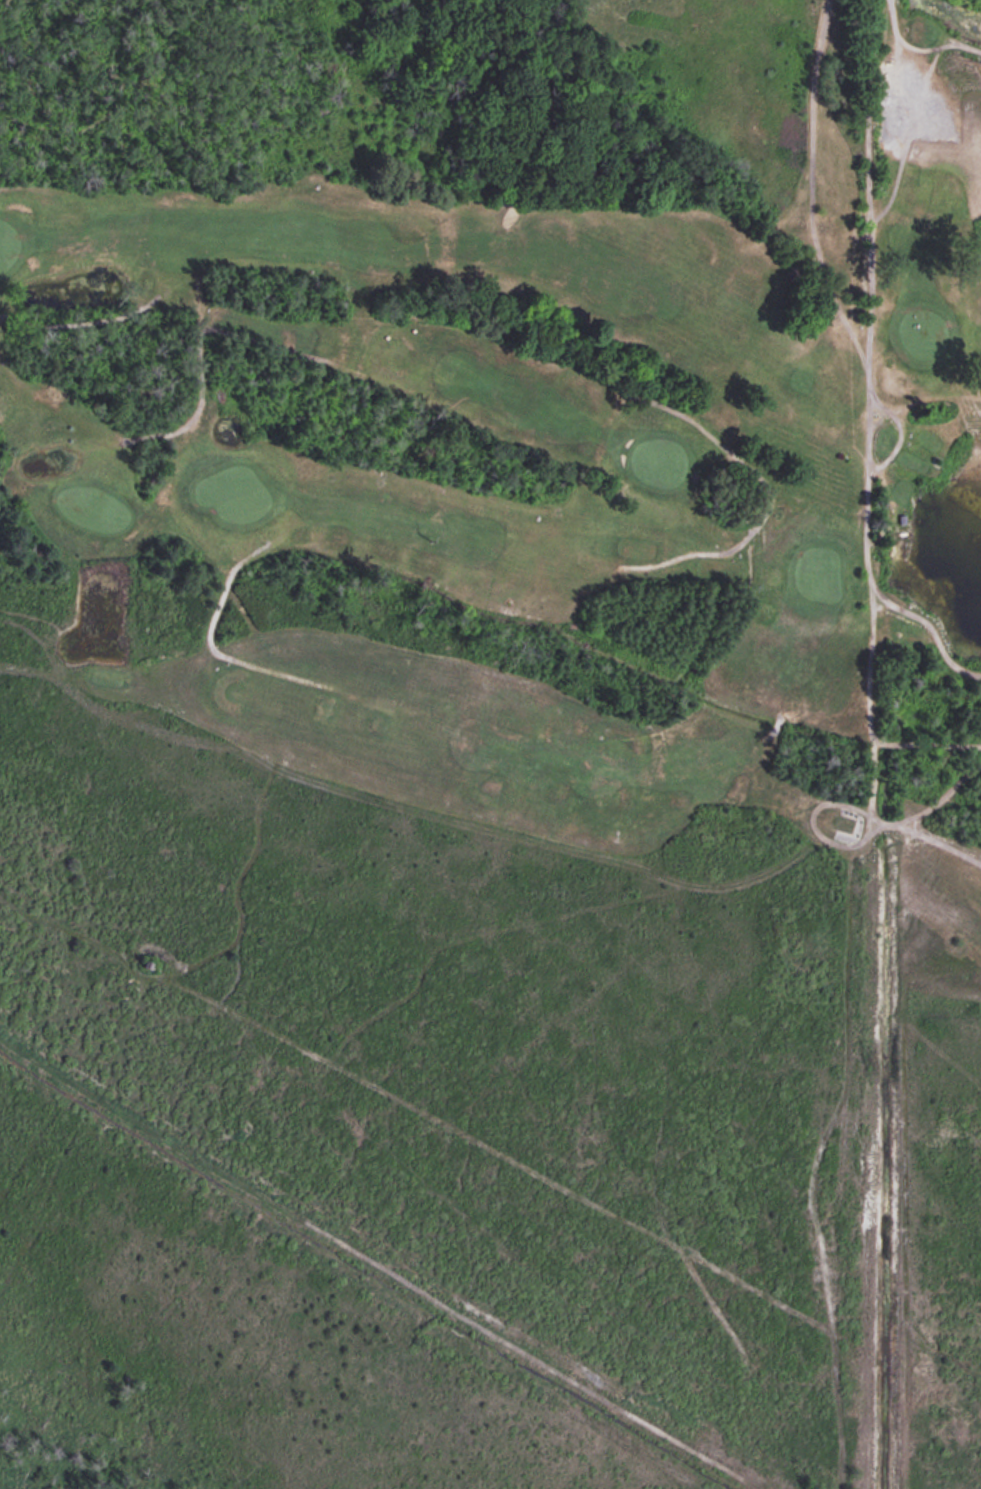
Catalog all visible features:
park: (539, 500)

